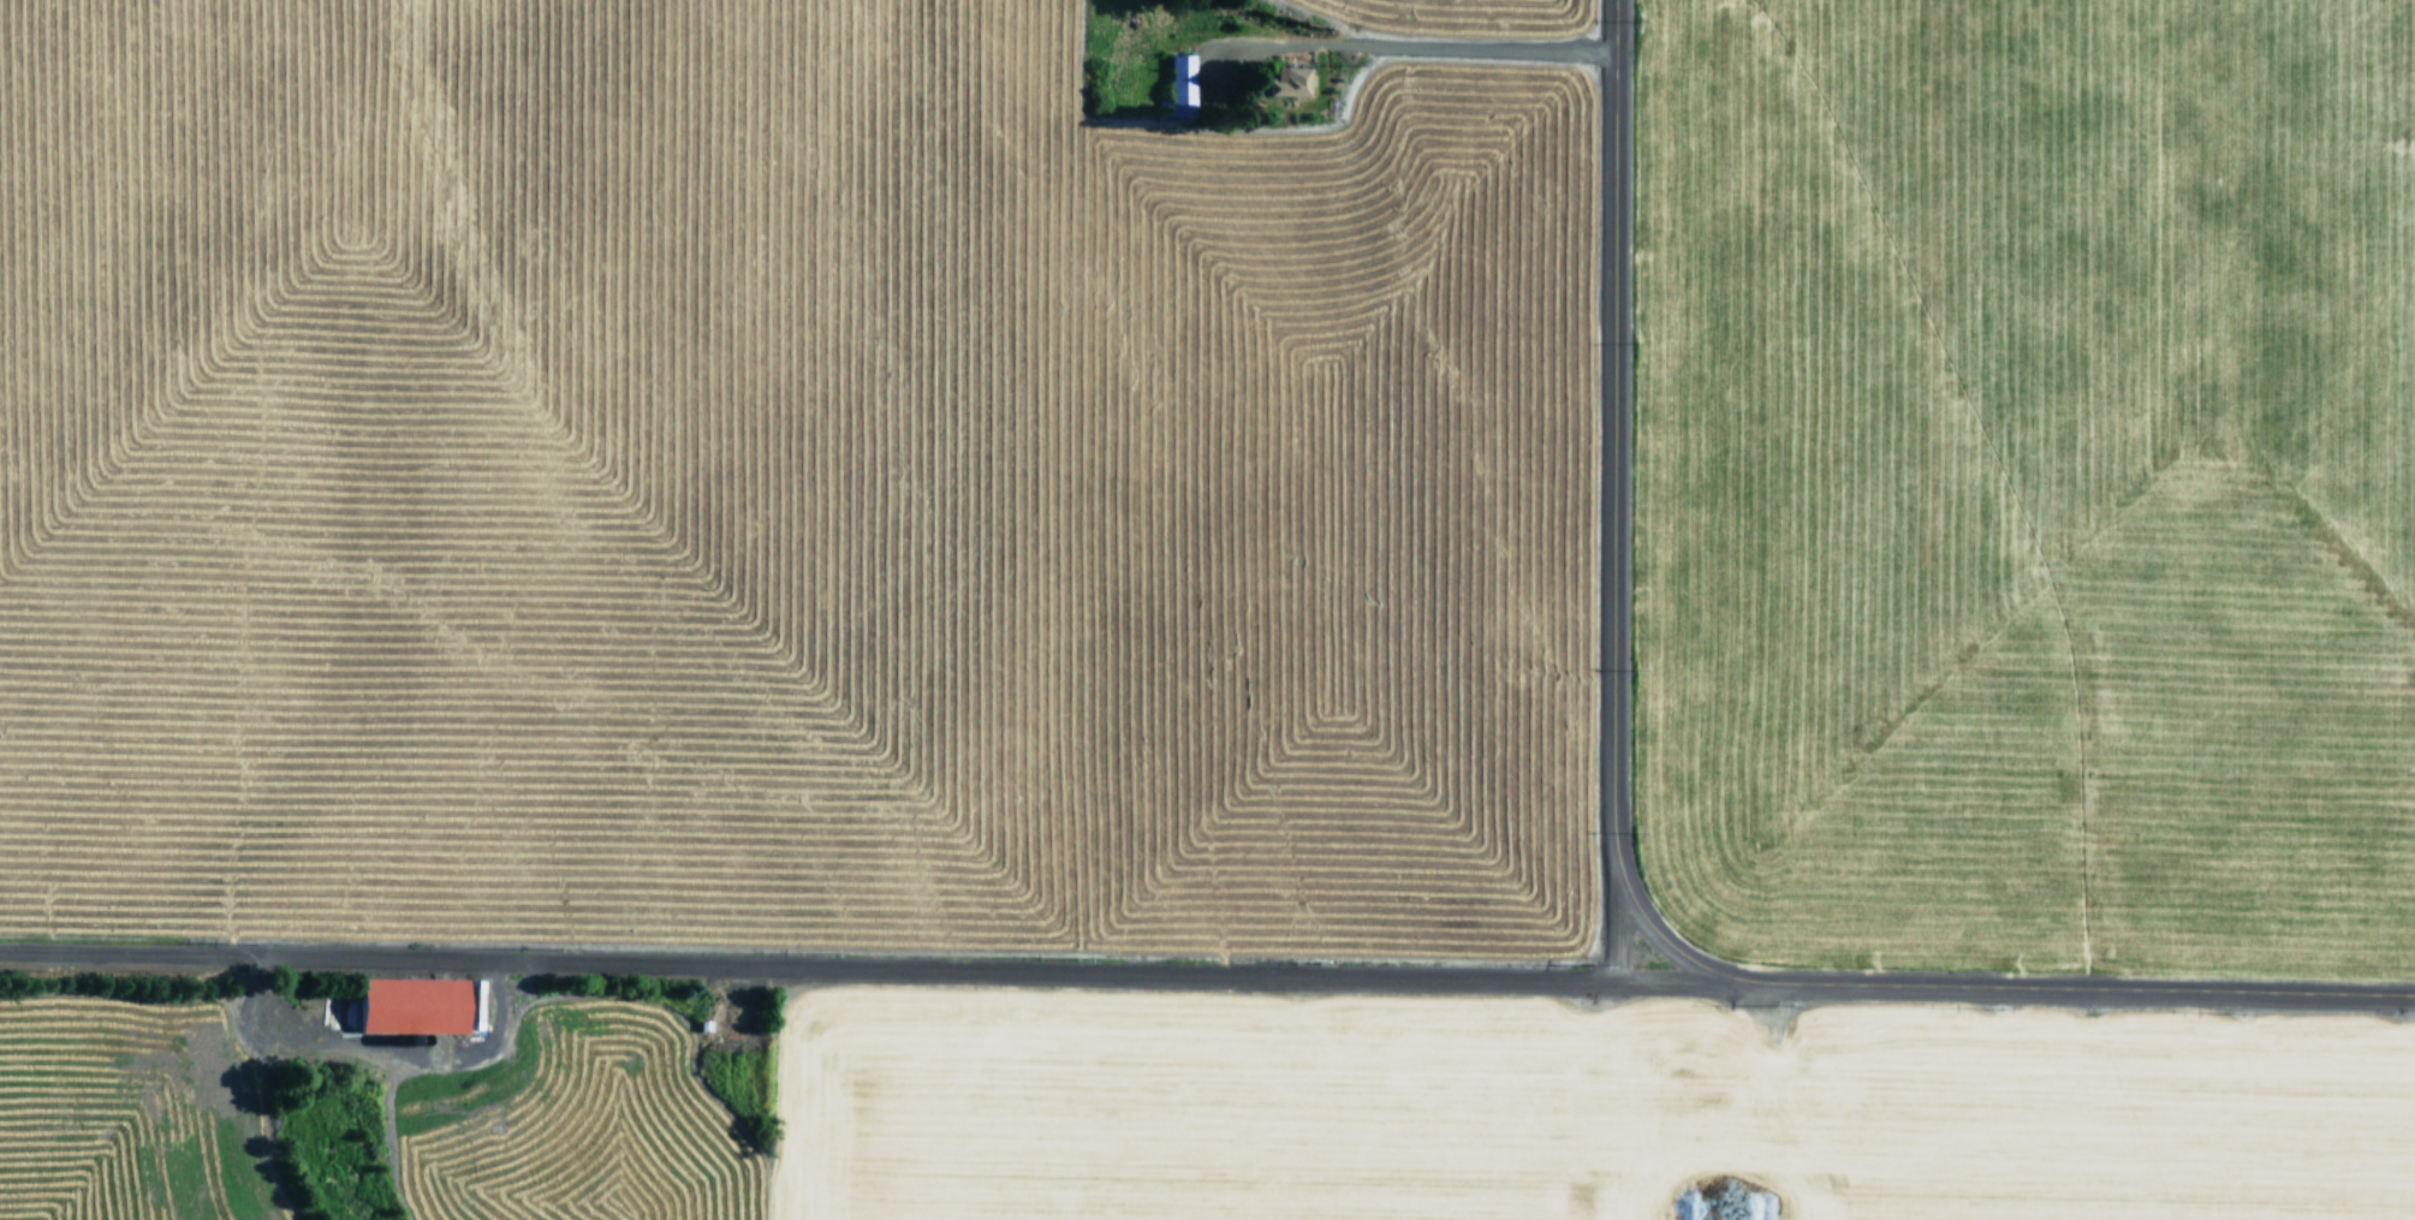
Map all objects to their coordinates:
building: (1177, 82)
road: (1618, 492)
crop: (1207, 609)
road: (1666, 941)
road: (804, 963)
road: (2012, 988)

